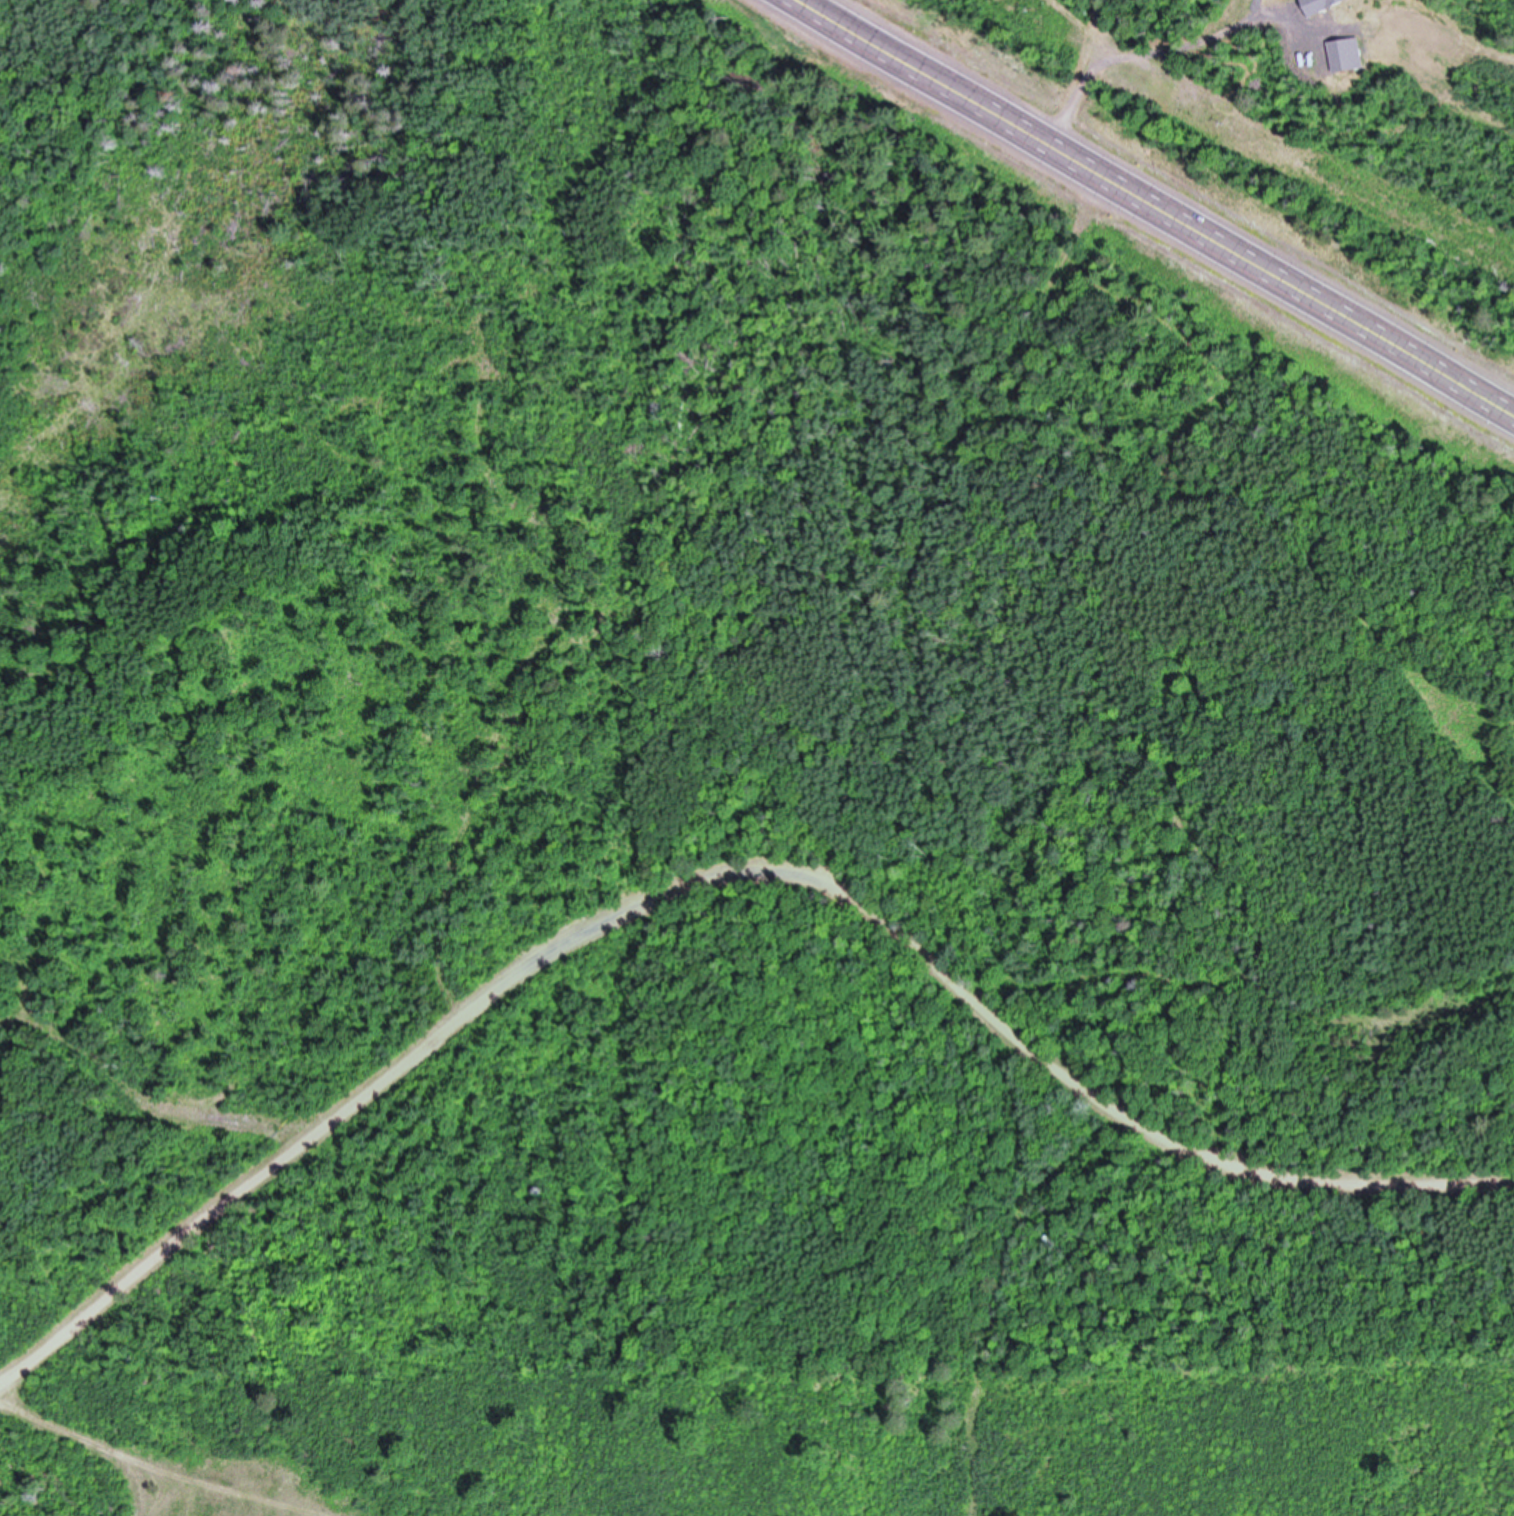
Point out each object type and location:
building: (1318, 5)
road: (874, 45)
building: (1345, 54)
road: (1233, 252)
building: (13, 963)
road: (488, 999)
road: (1139, 1126)
road: (1397, 1202)
road: (1008, 1277)

